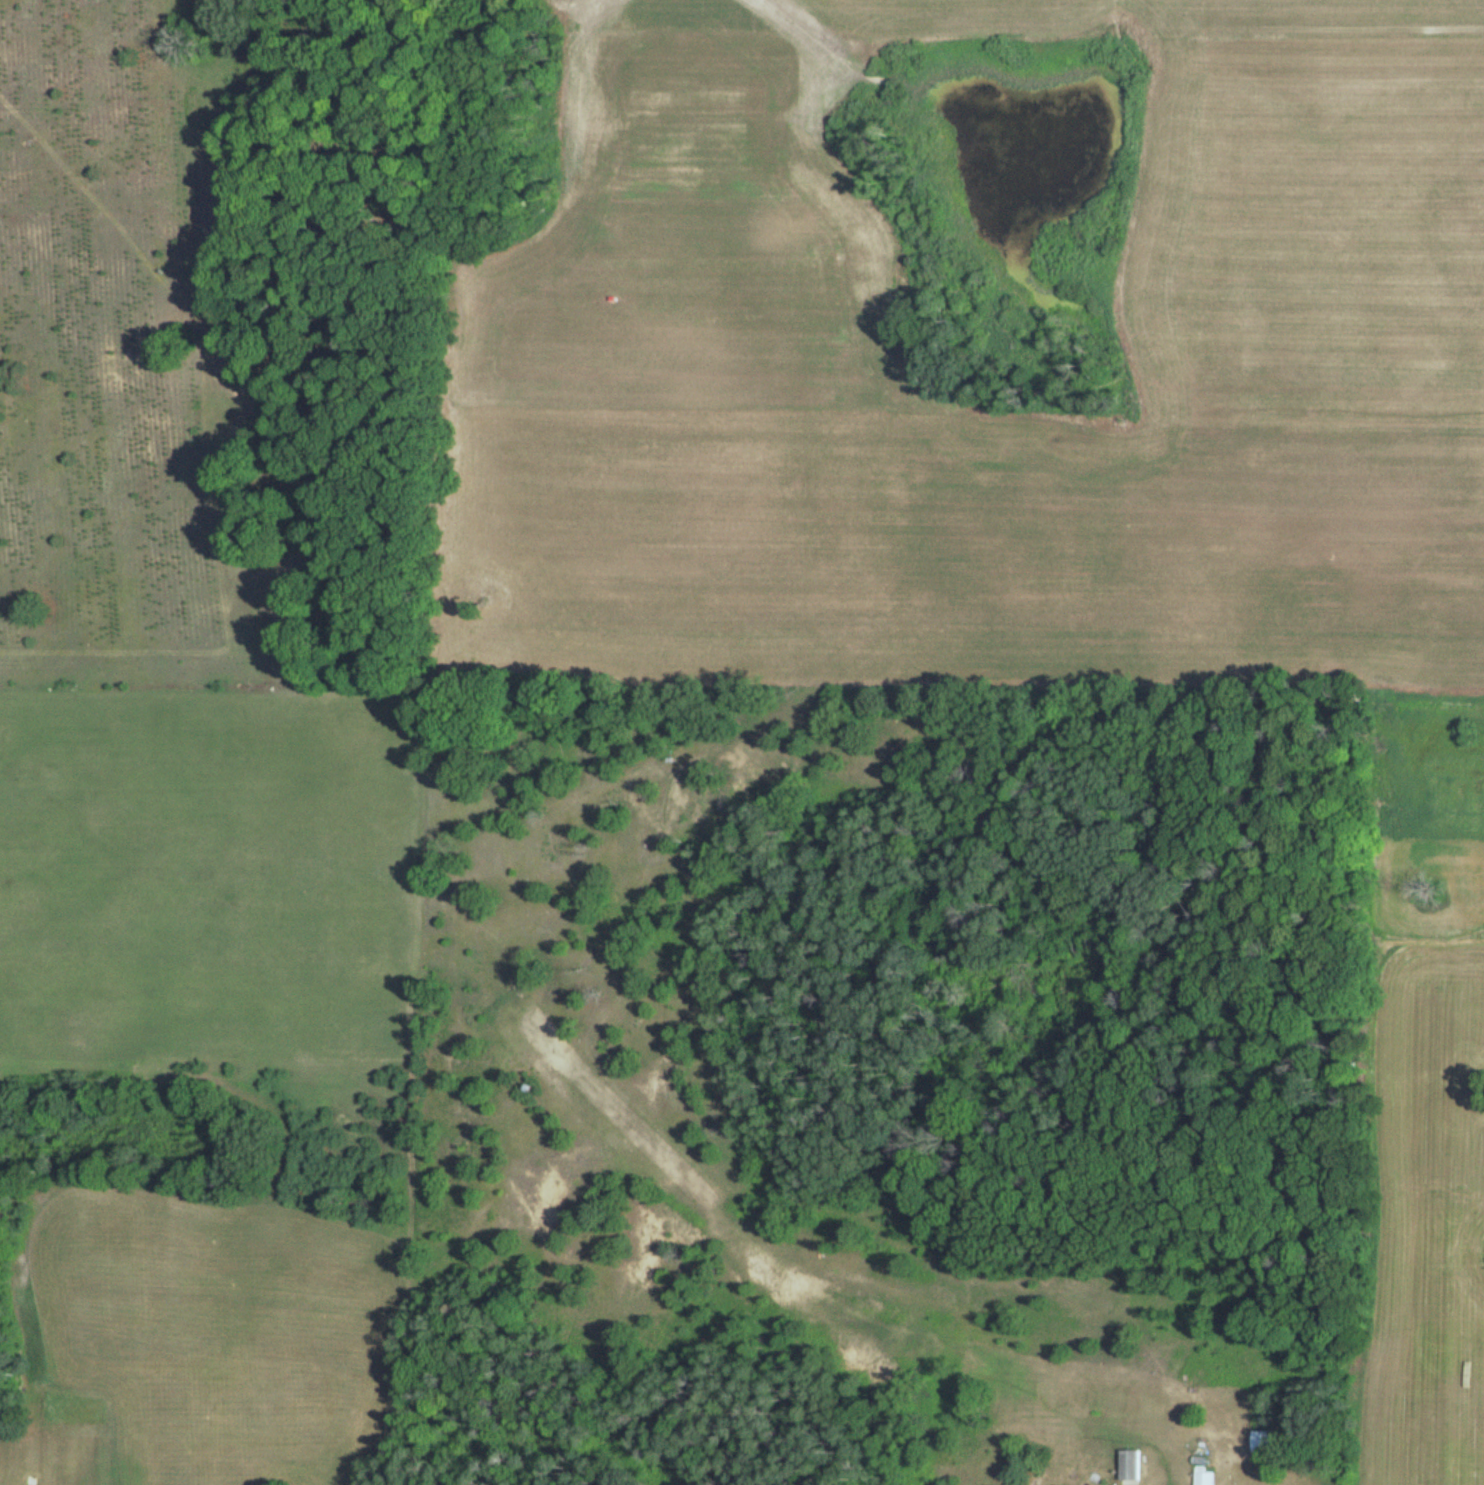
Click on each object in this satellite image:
building: (1265, 1441)
building: (1131, 1465)
building: (1206, 1478)

